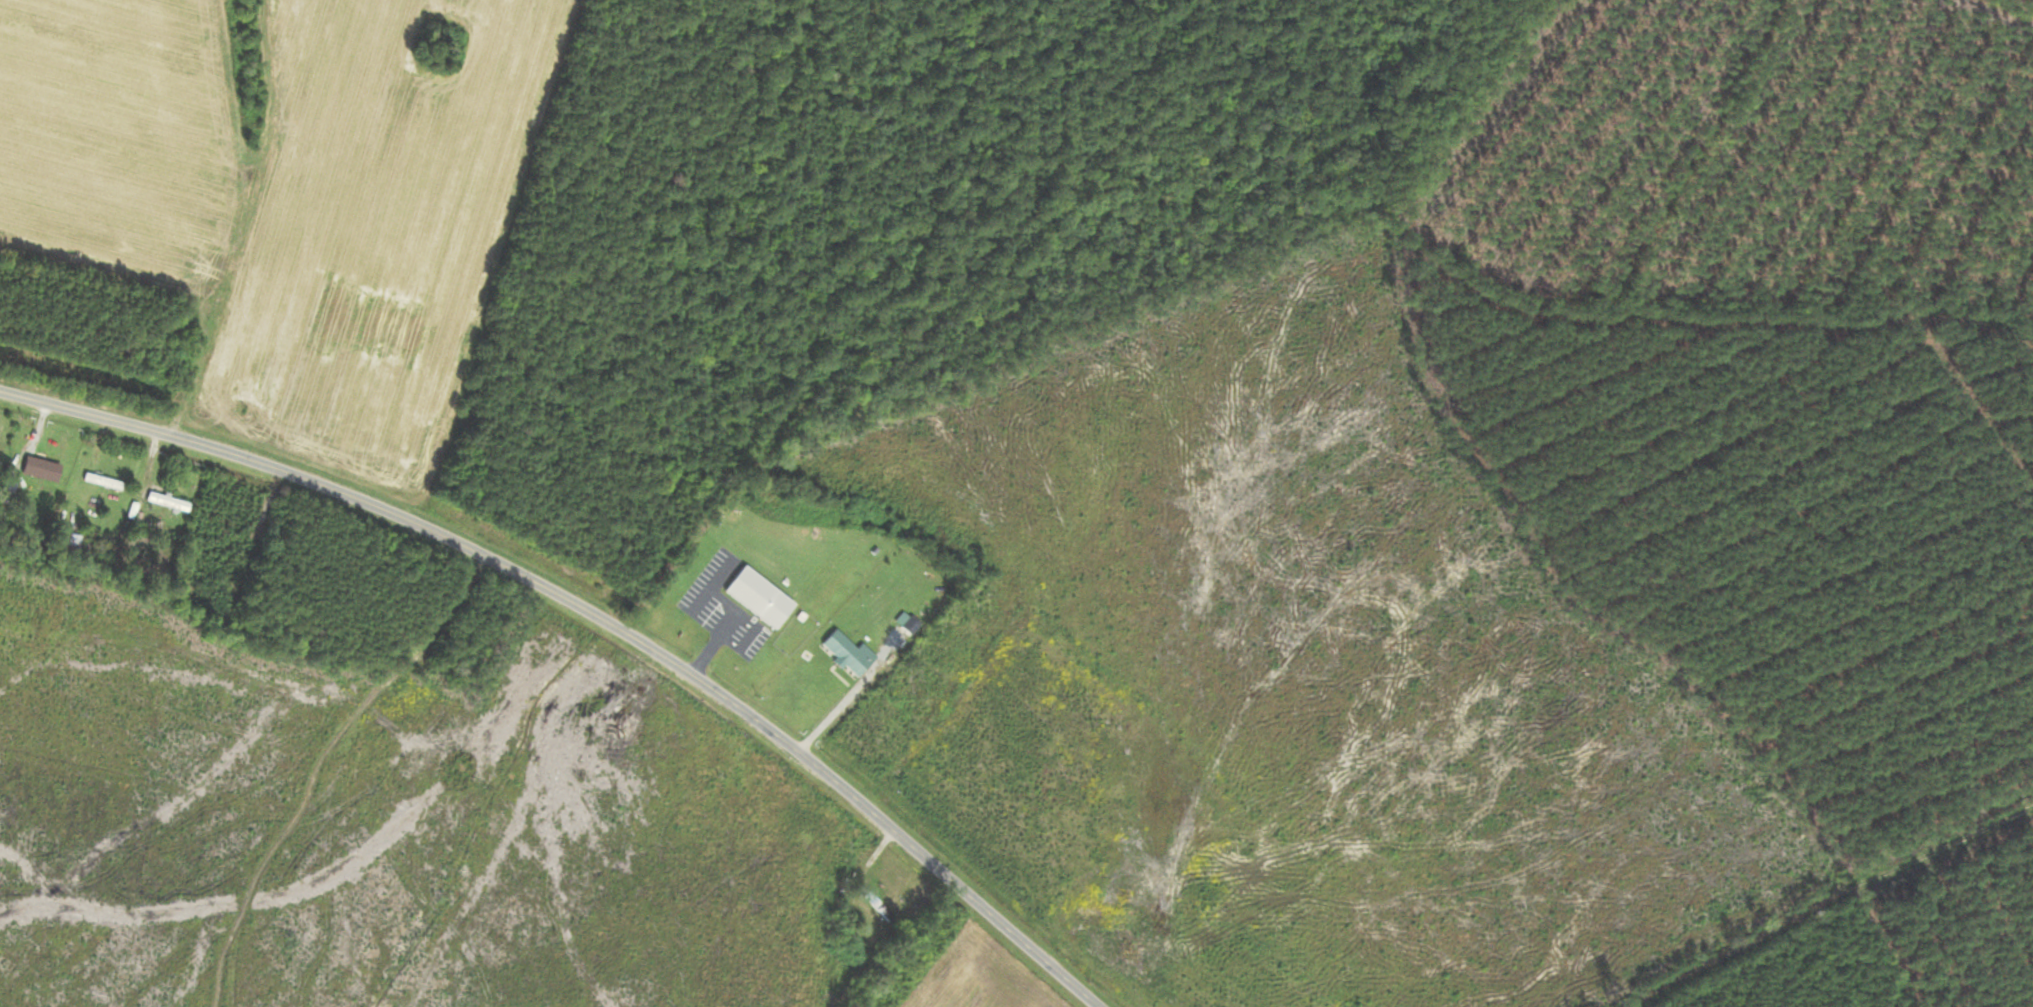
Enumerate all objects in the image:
building: (38, 470)
building: (100, 482)
building: (5, 493)
building: (163, 503)
building: (64, 544)
building: (754, 598)
road: (593, 614)
building: (844, 654)
building: (876, 907)

